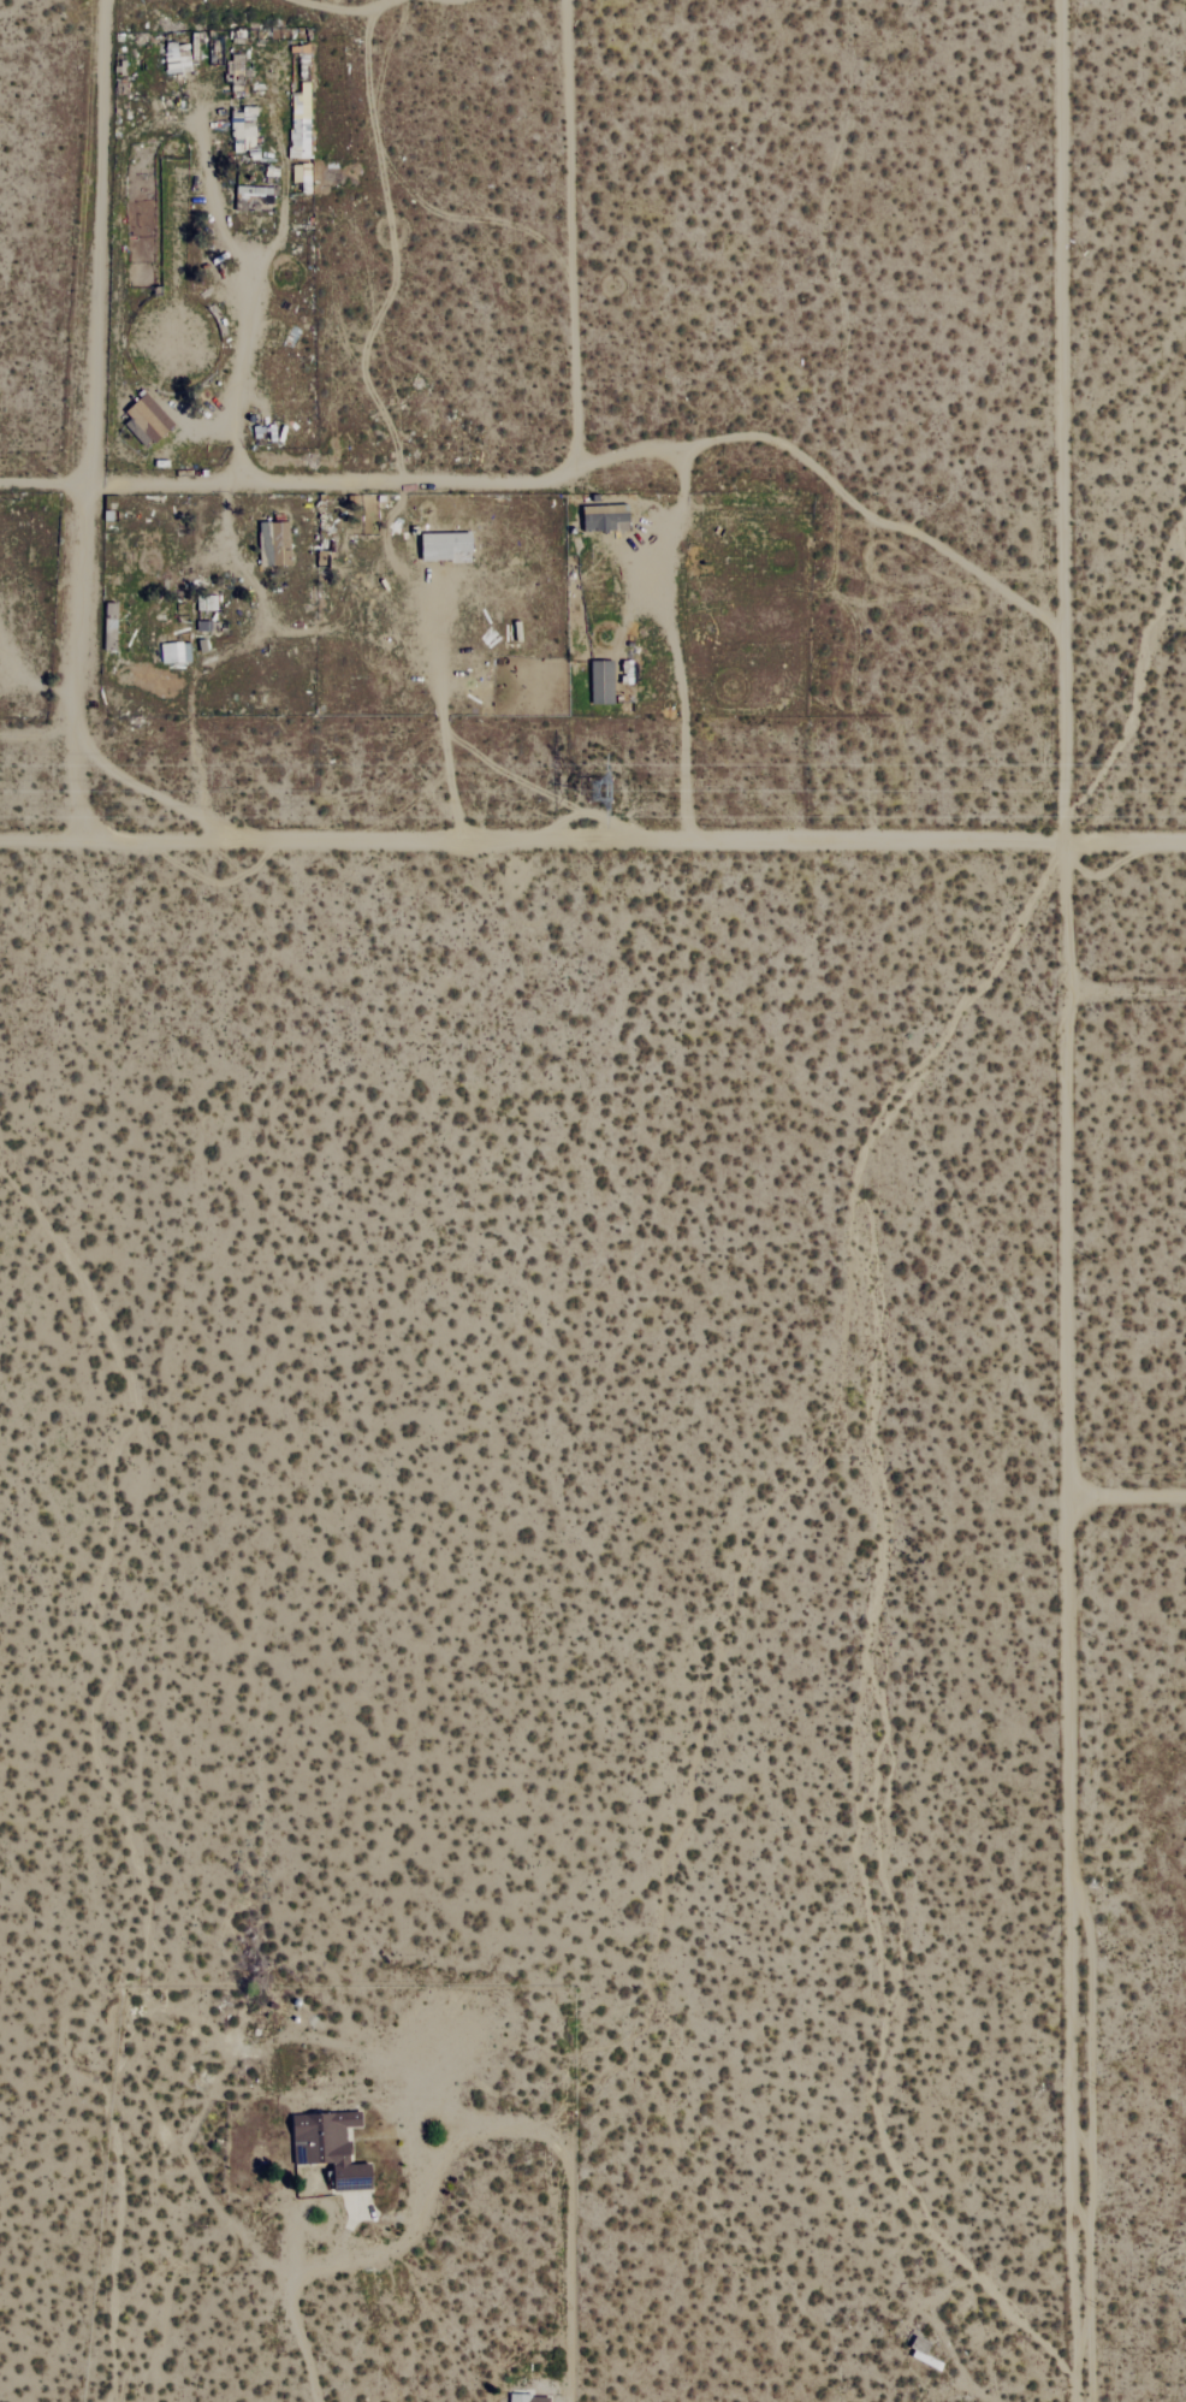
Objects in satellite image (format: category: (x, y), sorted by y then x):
building: (183, 58)
building: (301, 123)
building: (256, 191)
road: (100, 244)
building: (147, 419)
road: (279, 486)
building: (275, 545)
building: (446, 546)
building: (207, 603)
building: (172, 652)
road: (75, 667)
building: (603, 682)
power tower: (583, 787)
road: (592, 842)
road: (1073, 1200)
road: (1131, 1491)
road: (457, 2137)
building: (330, 2144)
building: (521, 2397)

